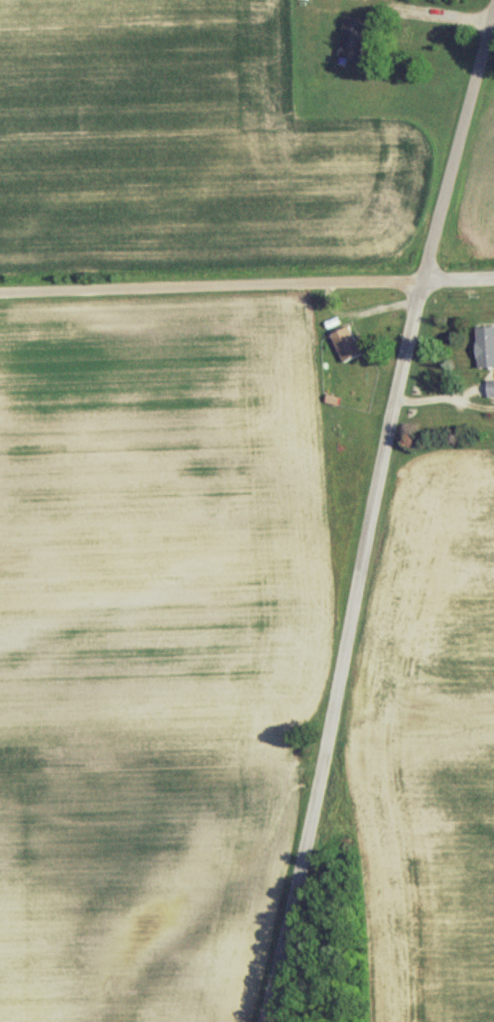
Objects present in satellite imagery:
building: (349, 39)
road: (454, 282)
road: (207, 290)
building: (344, 343)
building: (484, 345)
building: (489, 387)
road: (366, 510)

